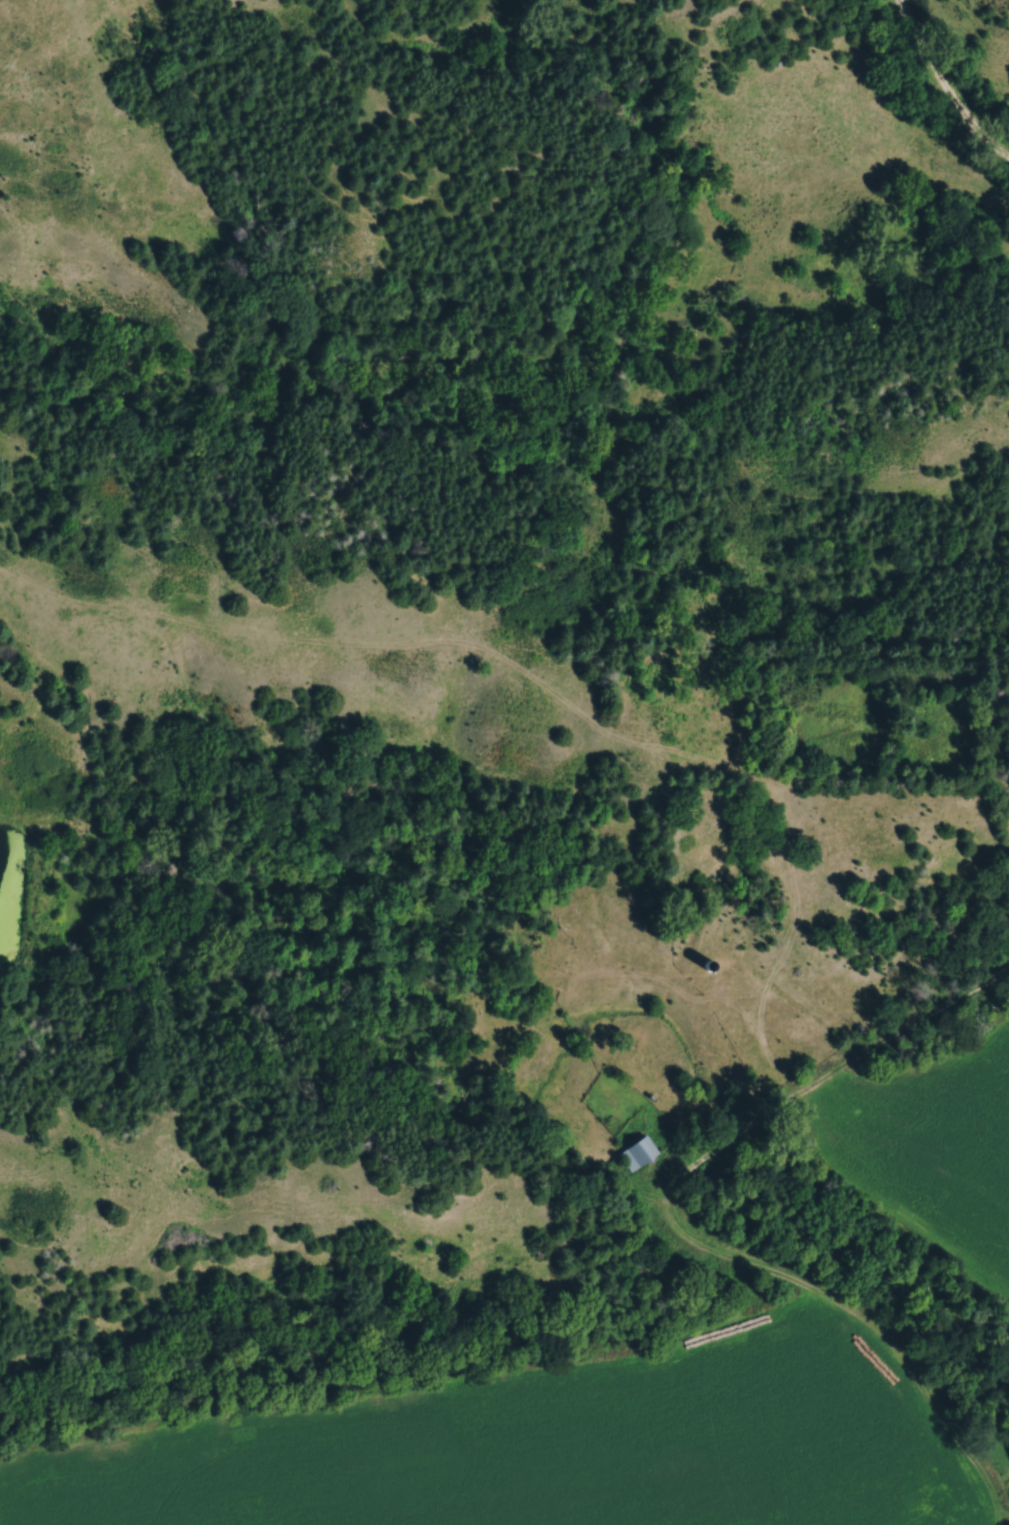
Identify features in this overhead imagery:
road: (937, 86)
building: (706, 965)
road: (823, 1079)
building: (637, 1152)

